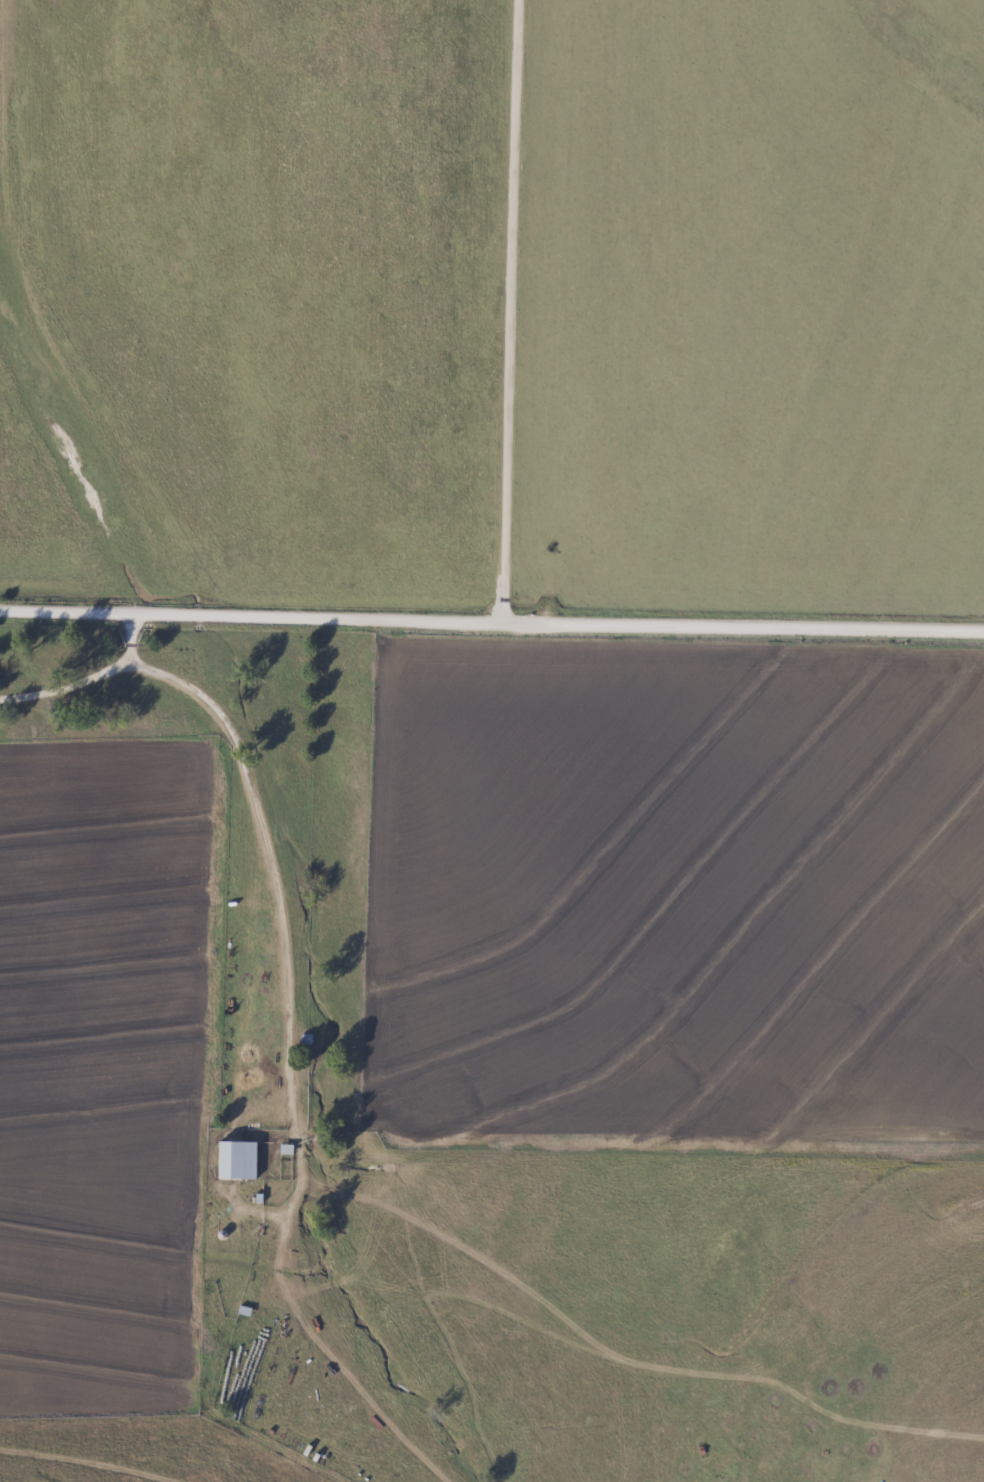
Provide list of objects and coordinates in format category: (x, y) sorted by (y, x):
road: (511, 311)
road: (492, 621)
road: (129, 640)
road: (251, 801)
building: (238, 1161)

